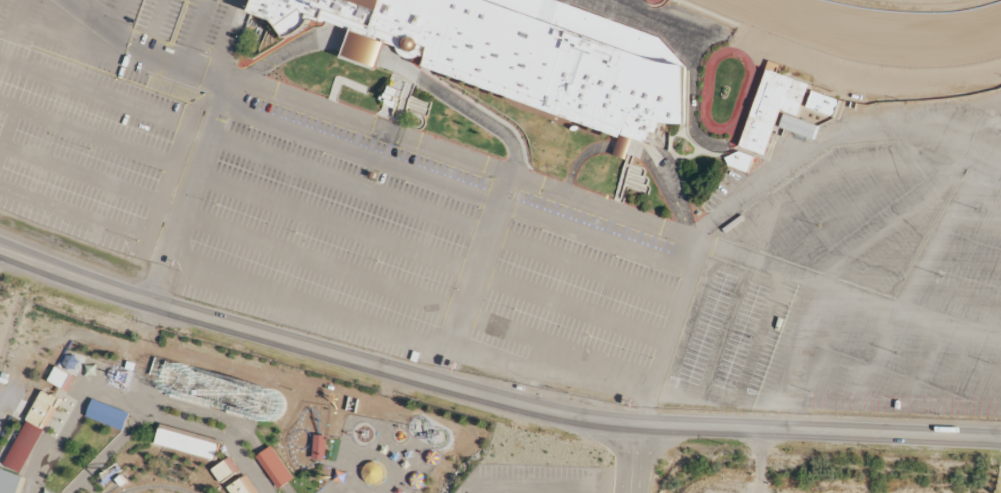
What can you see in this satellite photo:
road: (76, 1)
road: (119, 15)
parking lot: (184, 23)
track: (879, 30)
road: (197, 34)
parking lot: (81, 41)
road: (221, 42)
road: (290, 49)
building: (364, 49)
road: (364, 50)
road: (143, 51)
building: (515, 54)
road: (881, 83)
road: (108, 97)
building: (822, 103)
road: (462, 105)
building: (770, 107)
road: (13, 111)
road: (369, 123)
building: (797, 126)
road: (832, 134)
road: (94, 136)
parking lot: (83, 150)
building: (738, 161)
road: (834, 170)
road: (89, 180)
road: (167, 182)
road: (454, 186)
road: (187, 188)
parking lot: (851, 212)
road: (73, 214)
road: (444, 215)
road: (974, 223)
parking lot: (330, 230)
road: (937, 233)
parking lot: (964, 248)
road: (899, 254)
road: (429, 257)
road: (964, 259)
road: (754, 260)
road: (819, 267)
road: (472, 277)
road: (415, 294)
road: (955, 295)
road: (306, 299)
parking lot: (572, 299)
road: (674, 317)
road: (723, 337)
parking lot: (726, 337)
road: (835, 350)
road: (874, 357)
parking lot: (874, 364)
road: (913, 364)
road: (952, 370)
road: (546, 375)
road: (989, 379)
road: (491, 396)
road: (736, 400)
road: (823, 404)
road: (643, 408)
theme park: (247, 426)
road: (631, 457)
parking lot: (531, 479)
road: (524, 486)
road: (506, 489)
road: (544, 490)

